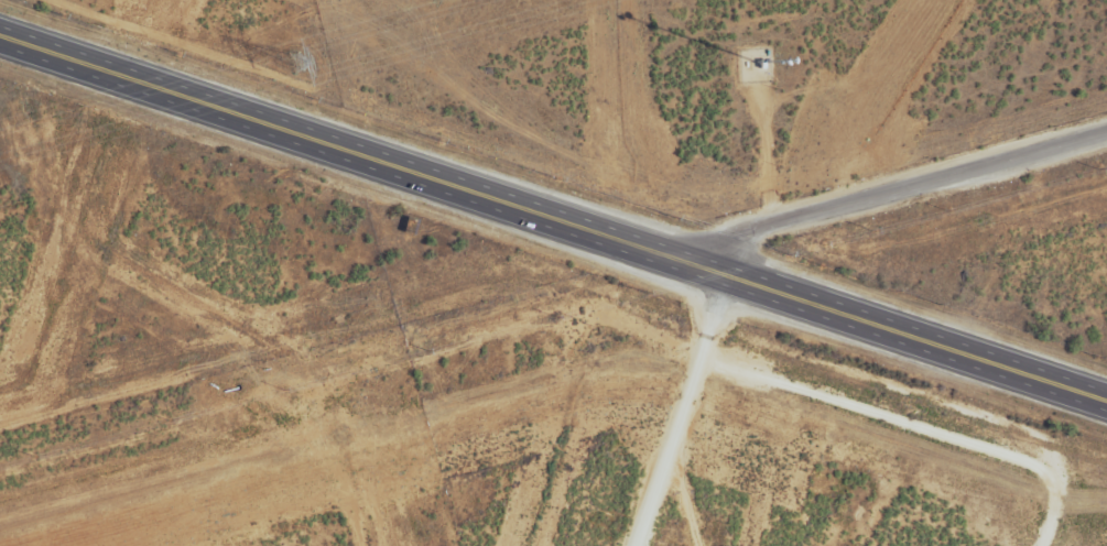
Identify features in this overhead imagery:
power tower: (294, 62)
road: (888, 197)
road: (553, 220)
road: (616, 402)
road: (620, 493)

